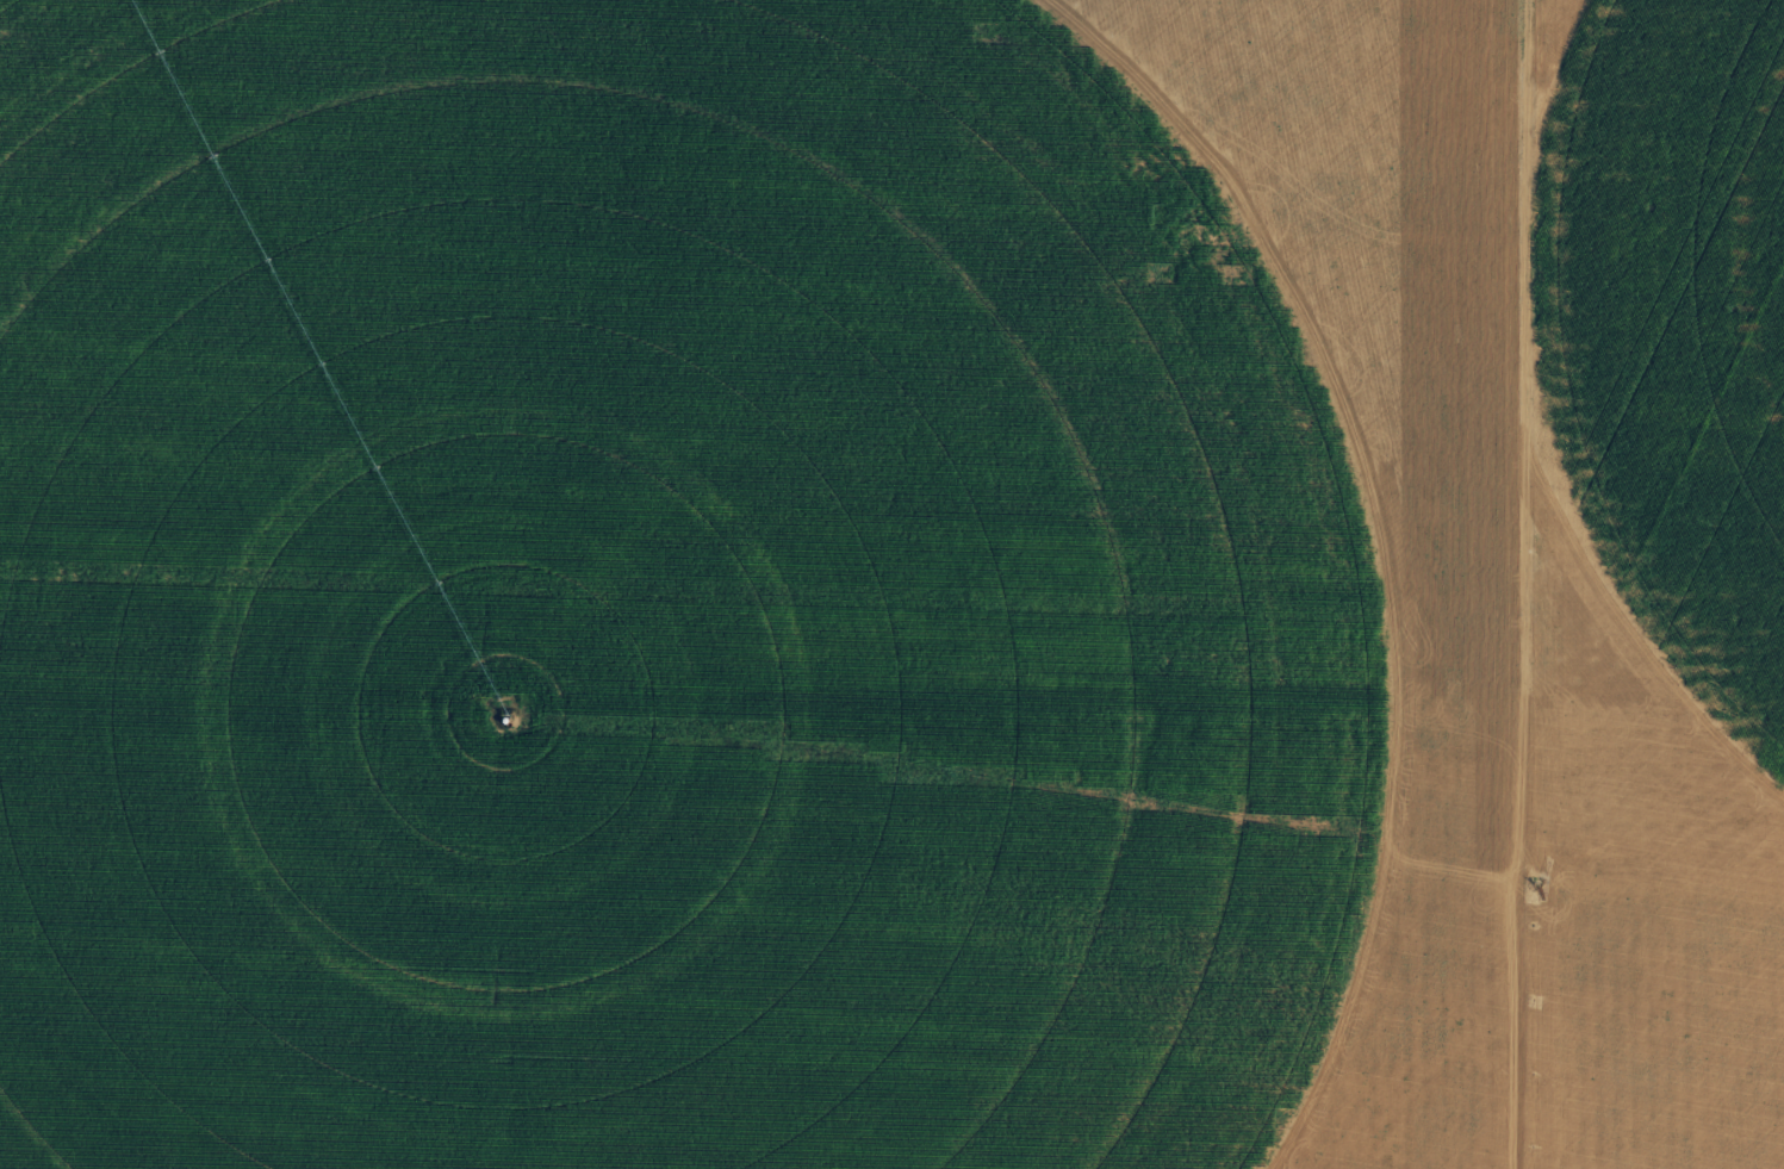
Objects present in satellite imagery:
road: (1540, 584)

